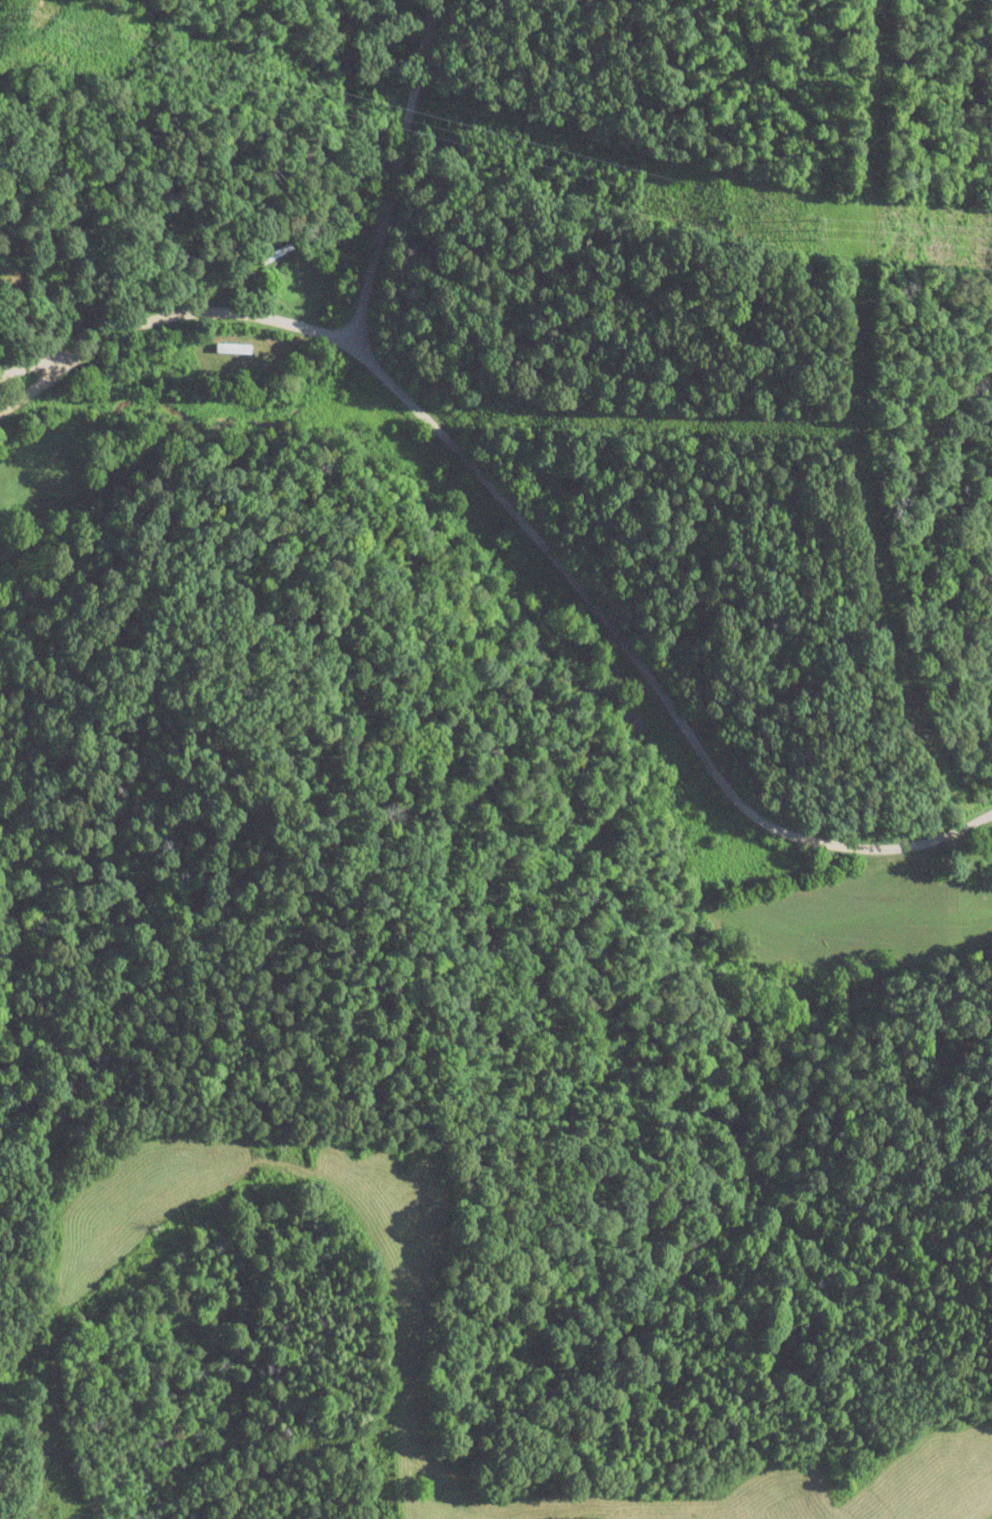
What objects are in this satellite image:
power tower: (27, 20)
road: (419, 164)
power tower: (818, 231)
building: (277, 253)
road: (516, 517)

